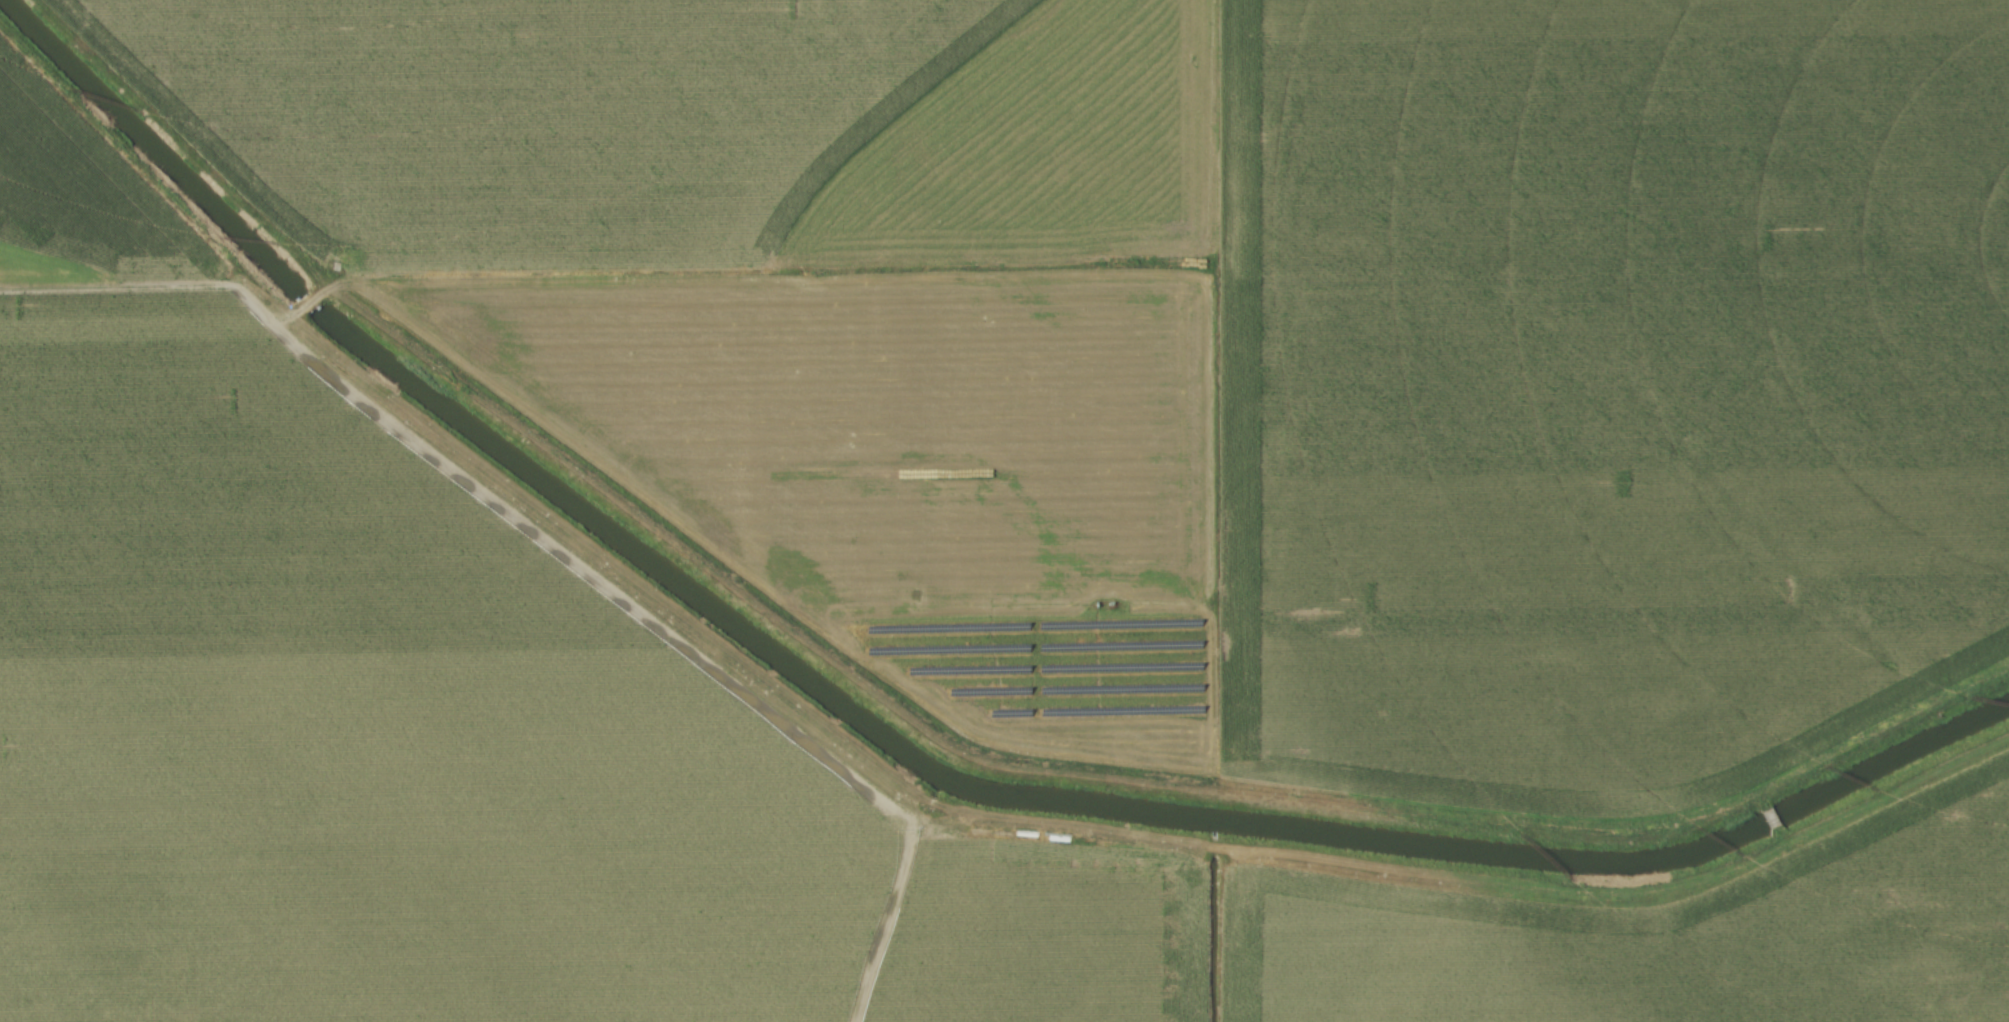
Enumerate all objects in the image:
crop: (1233, 344)
crop: (645, 756)

